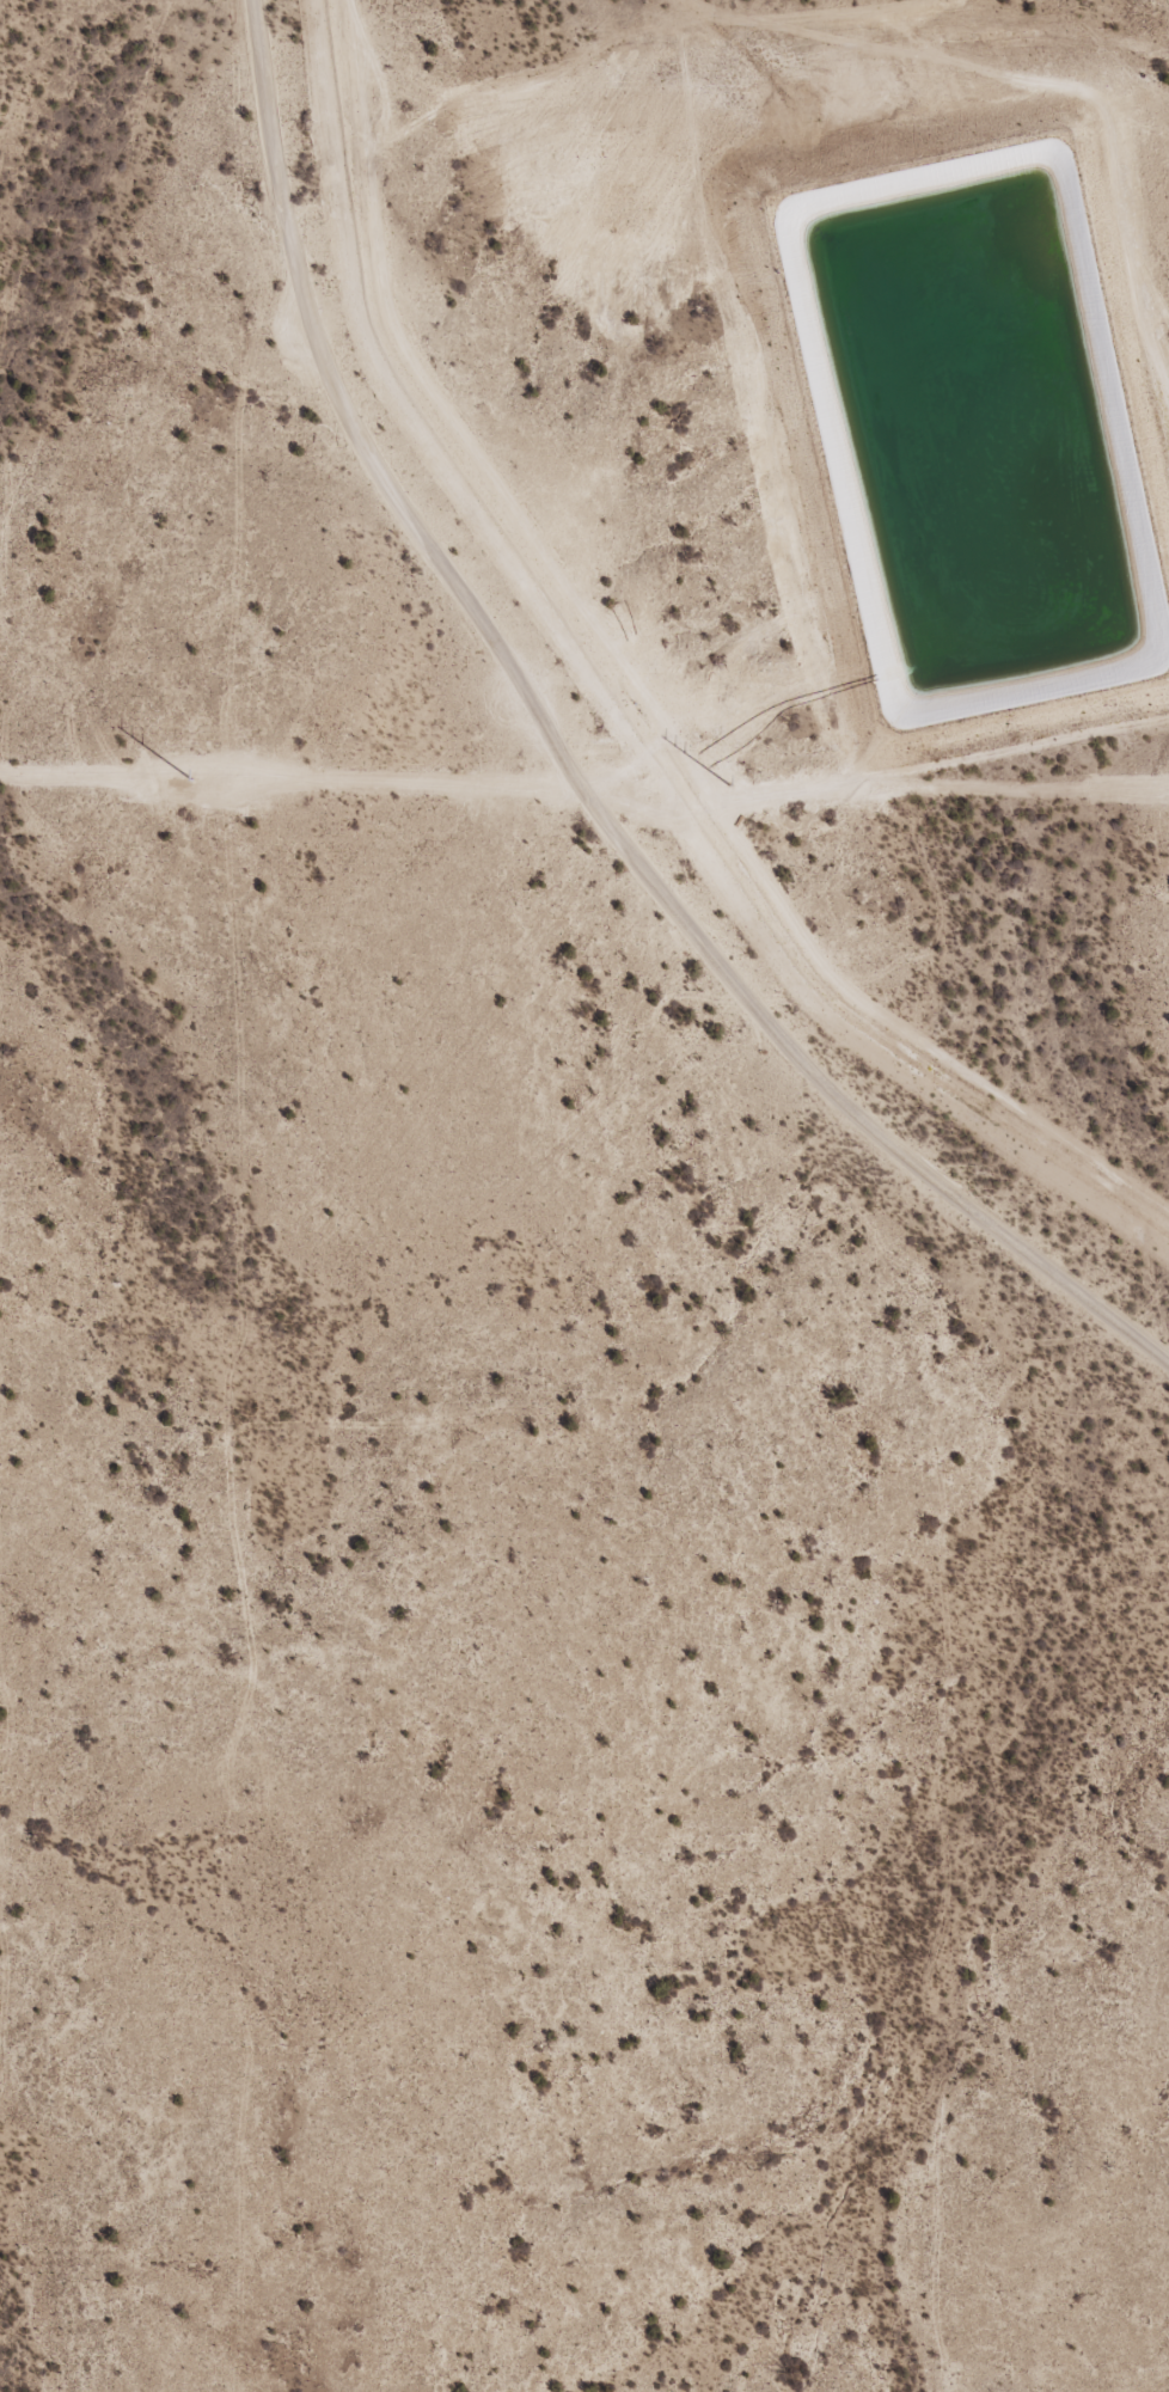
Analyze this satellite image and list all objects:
power tower: (238, 782)
power tower: (651, 788)
road: (899, 958)

